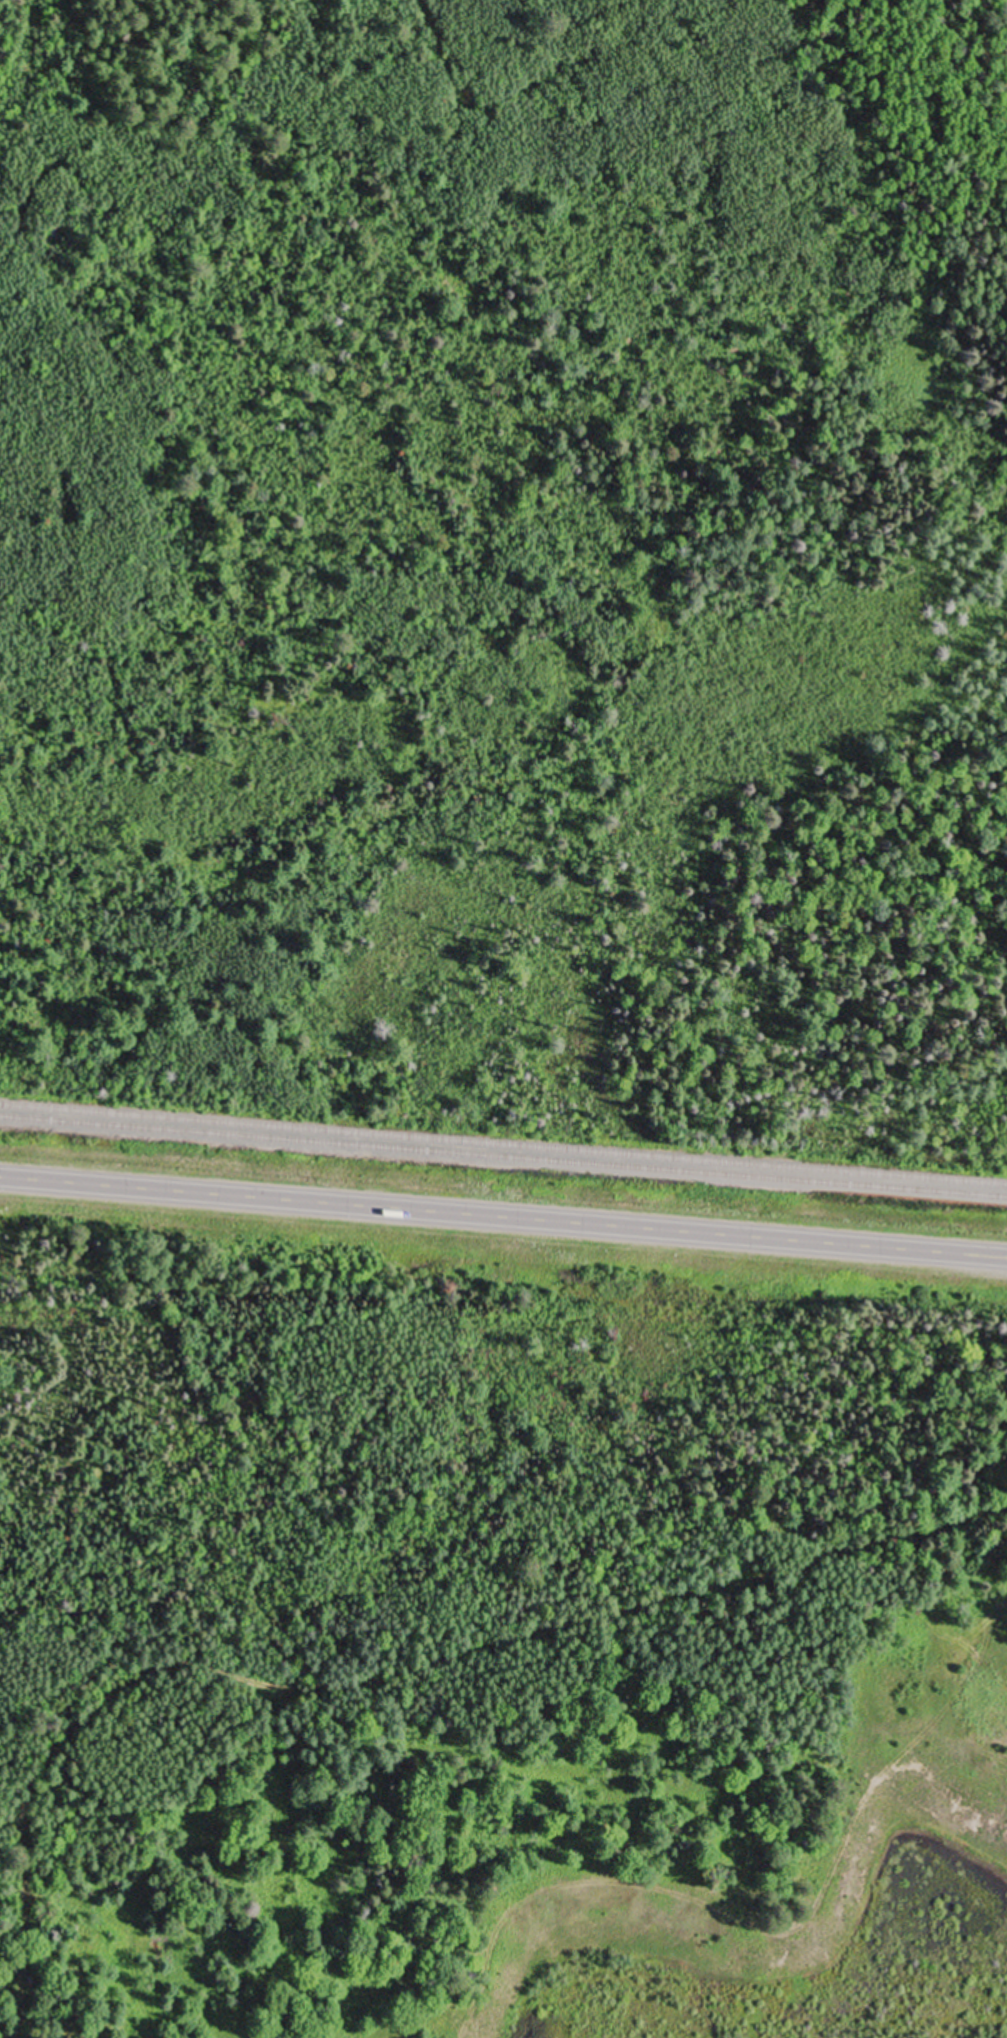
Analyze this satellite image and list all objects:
railway: (503, 1145)
railway: (503, 1158)
road: (503, 1217)
road: (376, 1676)
road: (776, 1932)

